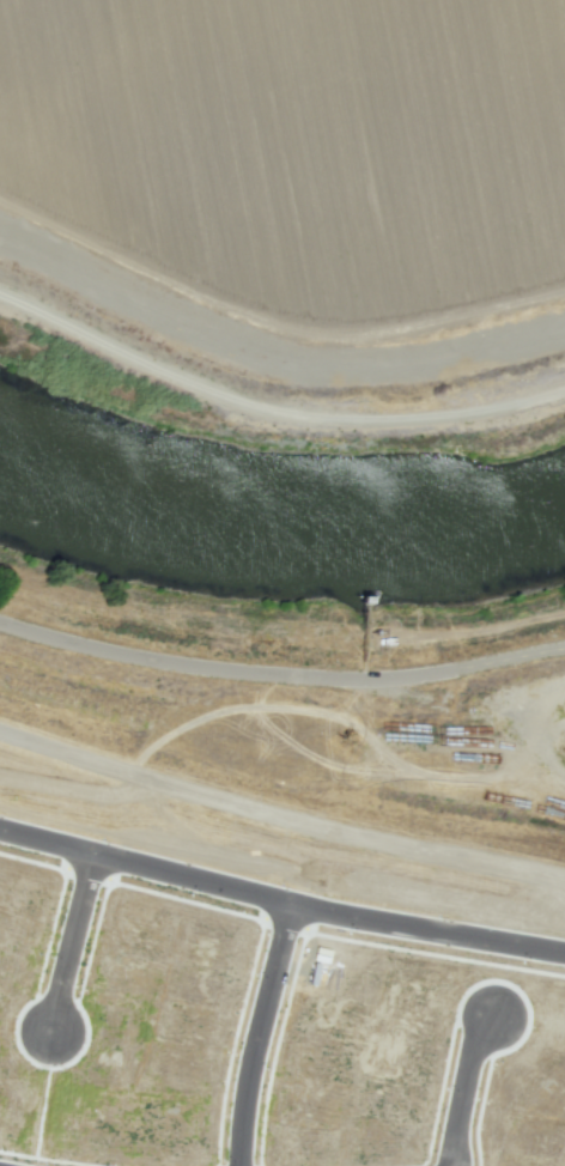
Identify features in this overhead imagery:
road: (259, 381)
river: (275, 528)
road: (280, 672)
road: (279, 903)
road: (67, 941)
road: (256, 1034)
road: (463, 1087)

